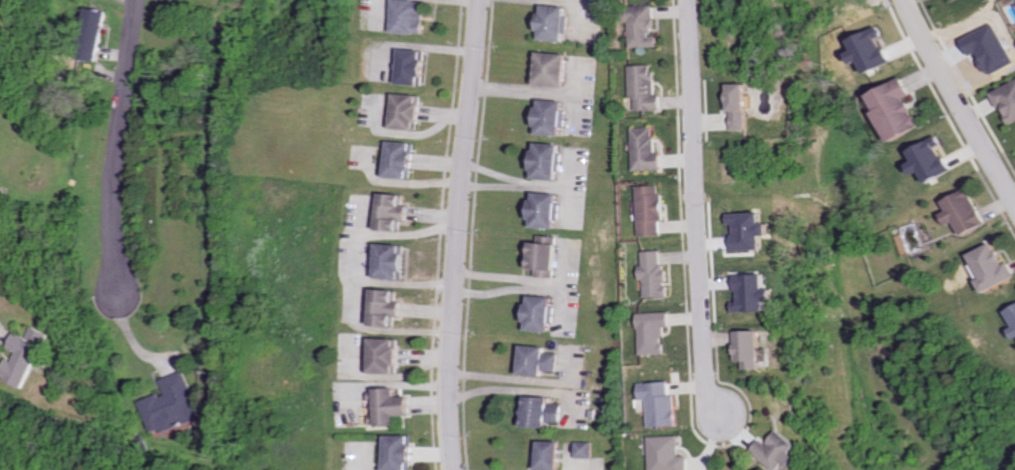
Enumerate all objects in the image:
road: (575, 0)
building: (411, 16)
building: (554, 22)
building: (645, 26)
building: (98, 33)
building: (875, 50)
building: (414, 66)
building: (552, 68)
building: (646, 87)
building: (1007, 99)
road: (959, 102)
building: (745, 105)
building: (901, 109)
building: (409, 111)
building: (552, 116)
road: (119, 144)
building: (647, 149)
building: (405, 159)
building: (547, 160)
building: (935, 160)
road: (515, 179)
road: (492, 183)
road: (568, 185)
road: (698, 207)
building: (652, 209)
building: (396, 210)
building: (546, 210)
building: (969, 212)
road: (436, 215)
building: (755, 230)
road: (412, 233)
road: (458, 235)
building: (544, 255)
building: (395, 260)
building: (994, 267)
building: (656, 275)
road: (407, 283)
building: (758, 293)
road: (358, 306)
building: (388, 307)
road: (429, 311)
building: (1013, 312)
building: (540, 313)
building: (655, 332)
road: (134, 336)
building: (753, 348)
building: (387, 355)
building: (28, 357)
building: (538, 360)
road: (388, 376)
road: (387, 383)
building: (662, 403)
building: (172, 405)
road: (432, 405)
building: (392, 406)
building: (544, 412)
building: (588, 449)
building: (782, 451)
building: (403, 452)
road: (436, 453)
building: (669, 454)
building: (555, 455)
road: (363, 457)

